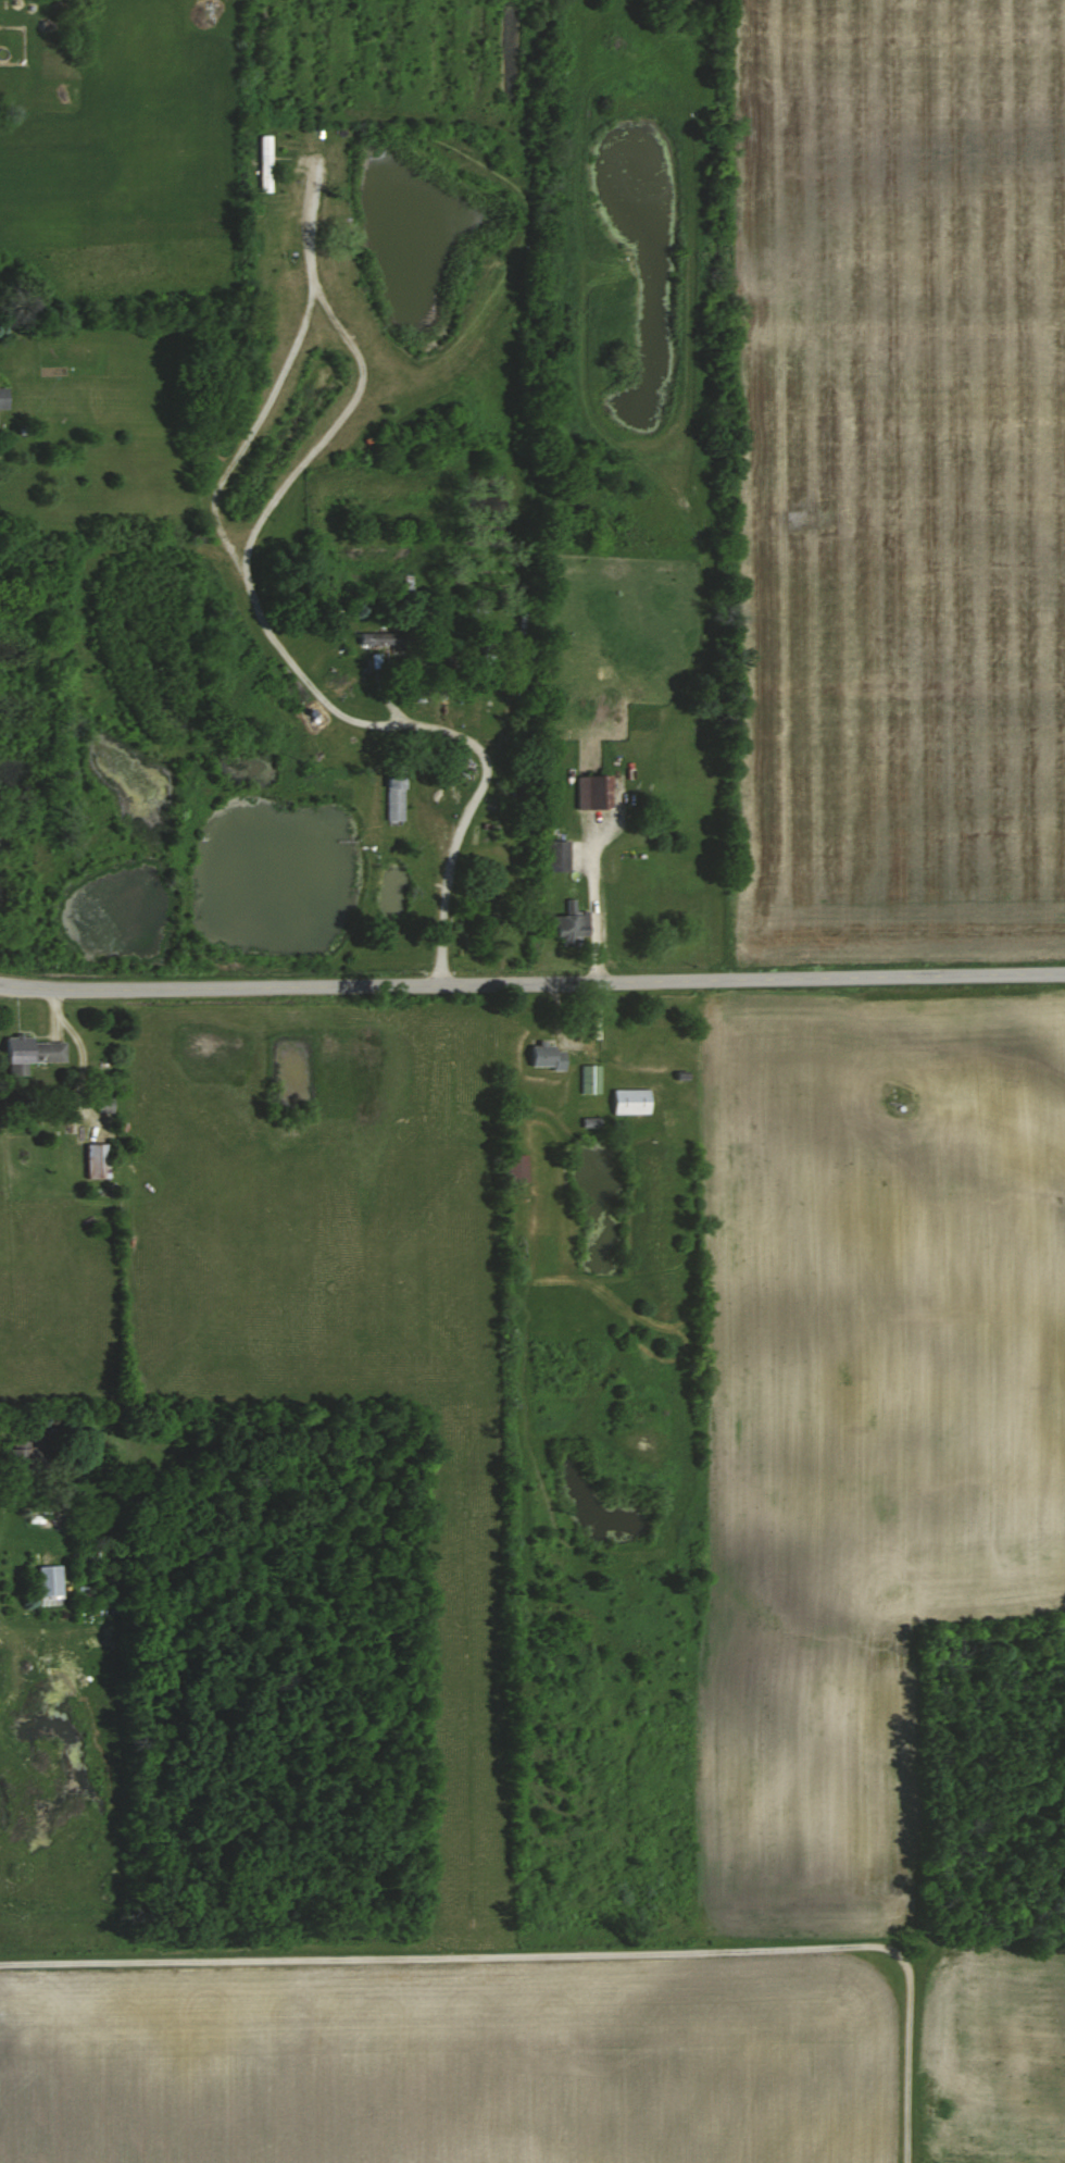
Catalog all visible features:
building: (262, 163)
road: (361, 382)
building: (5, 398)
building: (399, 637)
building: (485, 656)
building: (449, 674)
road: (308, 680)
building: (590, 791)
building: (392, 798)
building: (553, 855)
road: (599, 903)
building: (568, 925)
road: (531, 984)
building: (27, 1053)
building: (542, 1056)
building: (588, 1078)
building: (627, 1102)
building: (93, 1160)
building: (515, 1167)
building: (23, 1457)
building: (47, 1586)
road: (560, 1952)

